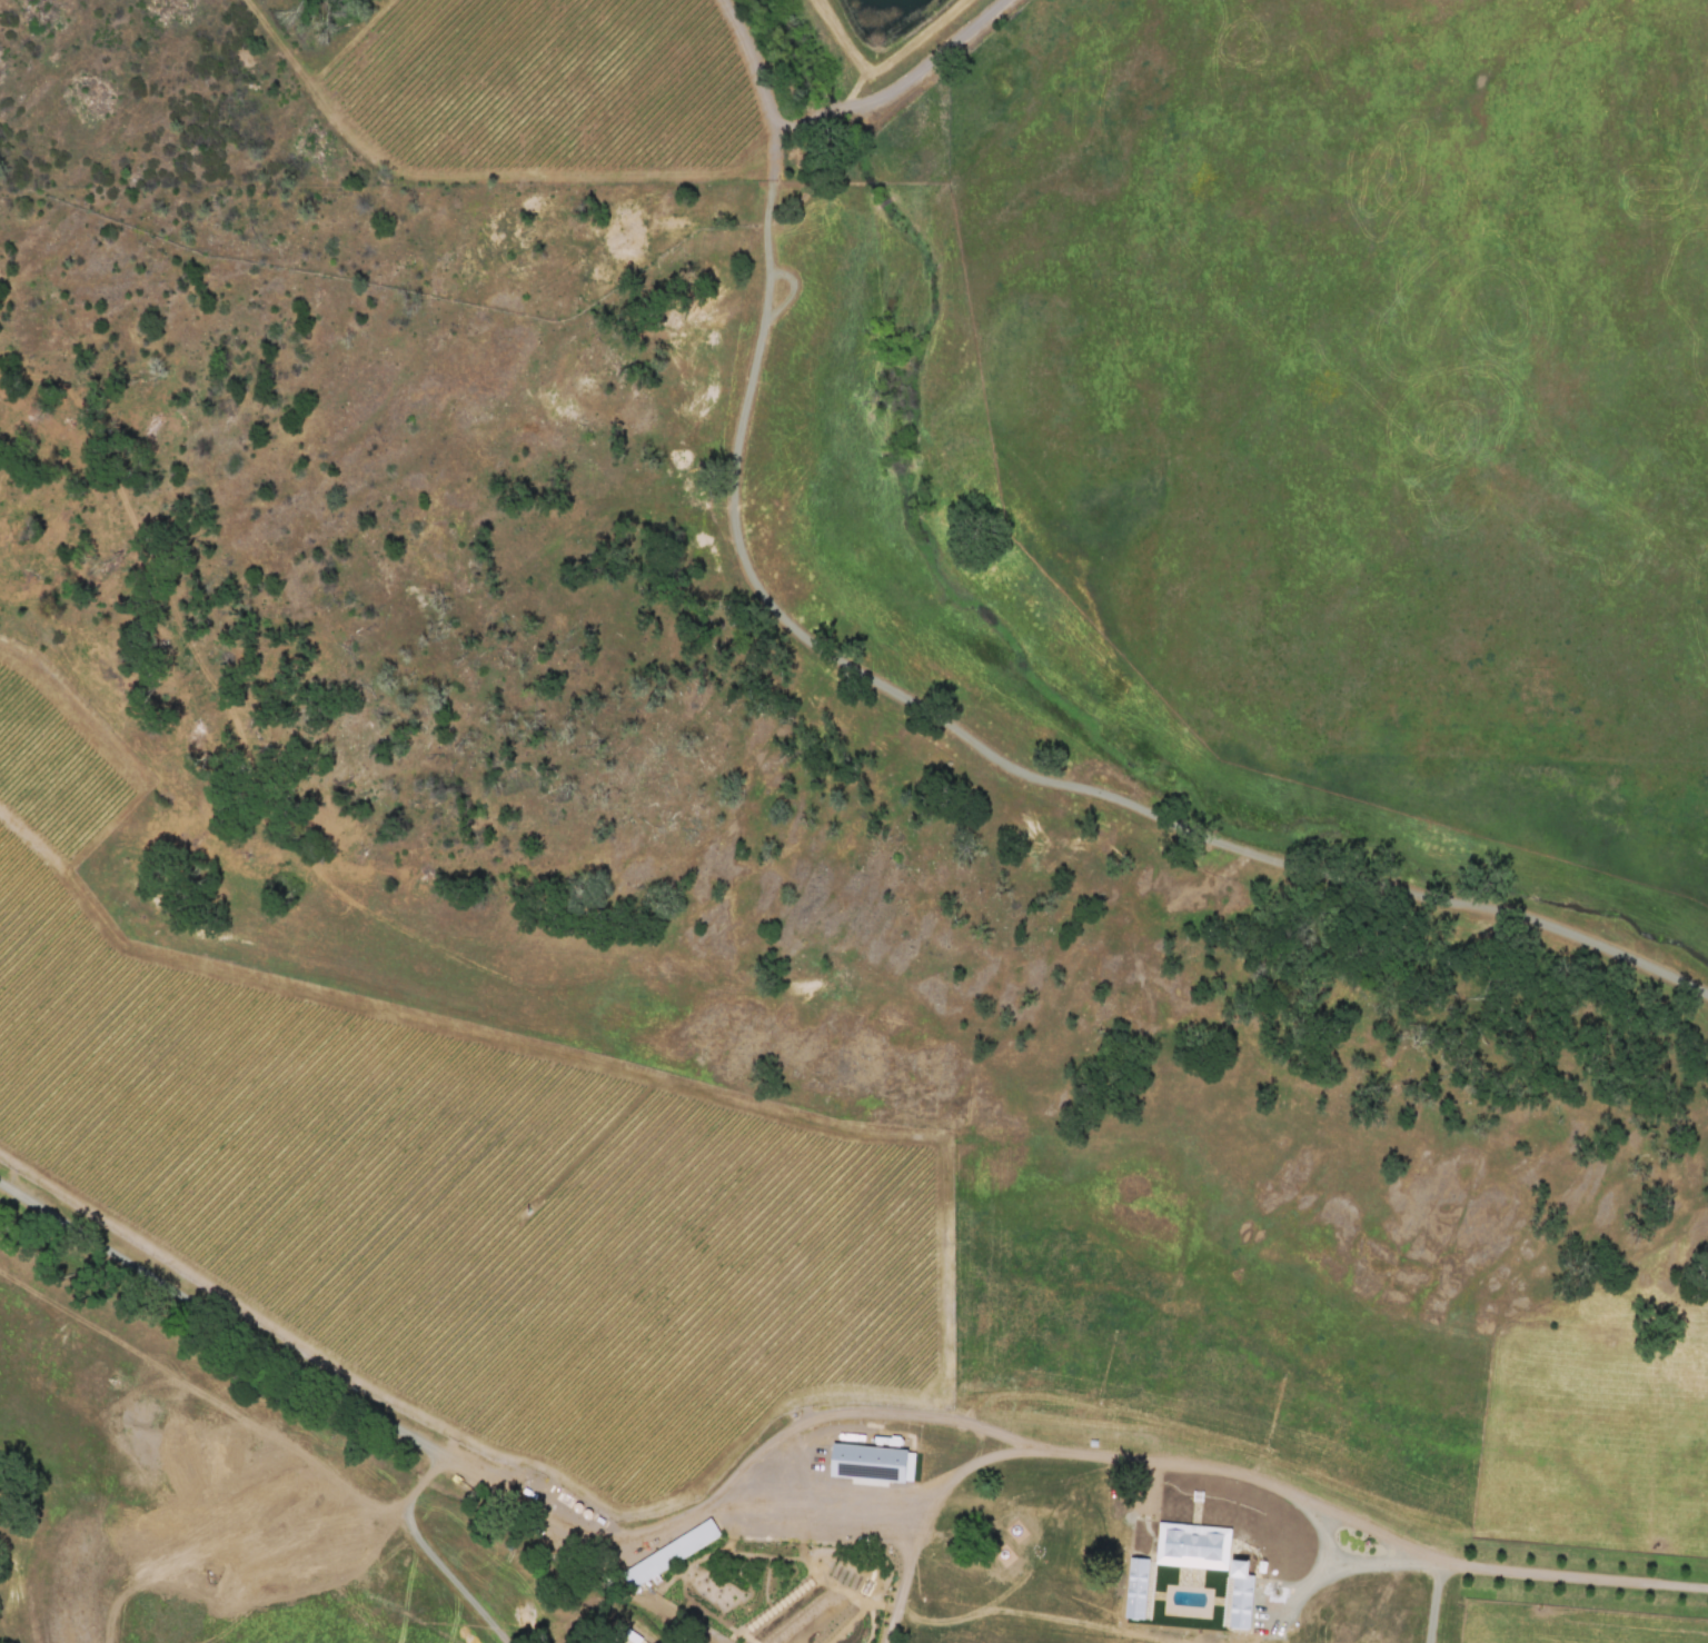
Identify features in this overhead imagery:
building: (867, 1463)
road: (1260, 1481)
building: (667, 1554)
building: (1206, 1565)
building: (1136, 1589)

